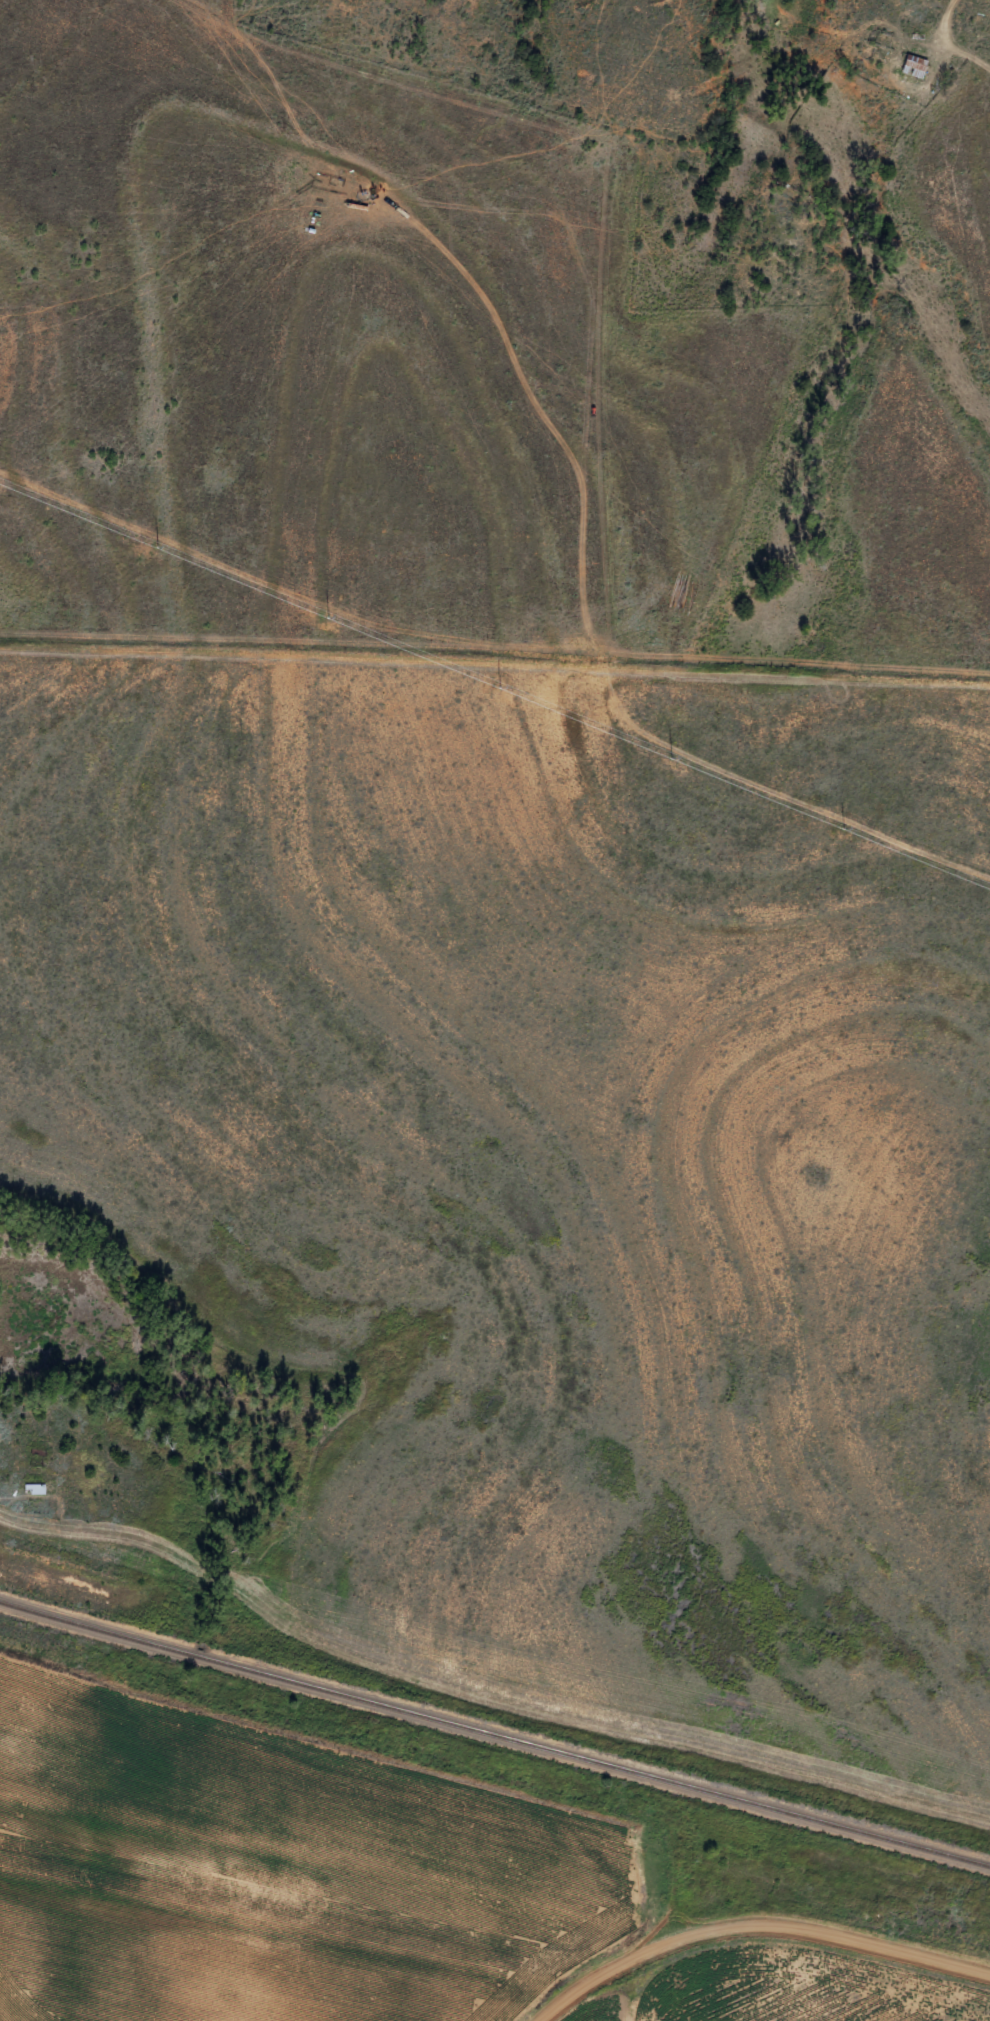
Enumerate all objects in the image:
road: (942, 23)
building: (915, 67)
building: (36, 1490)
railway: (495, 1745)
road: (760, 1926)
airport: (828, 2004)

